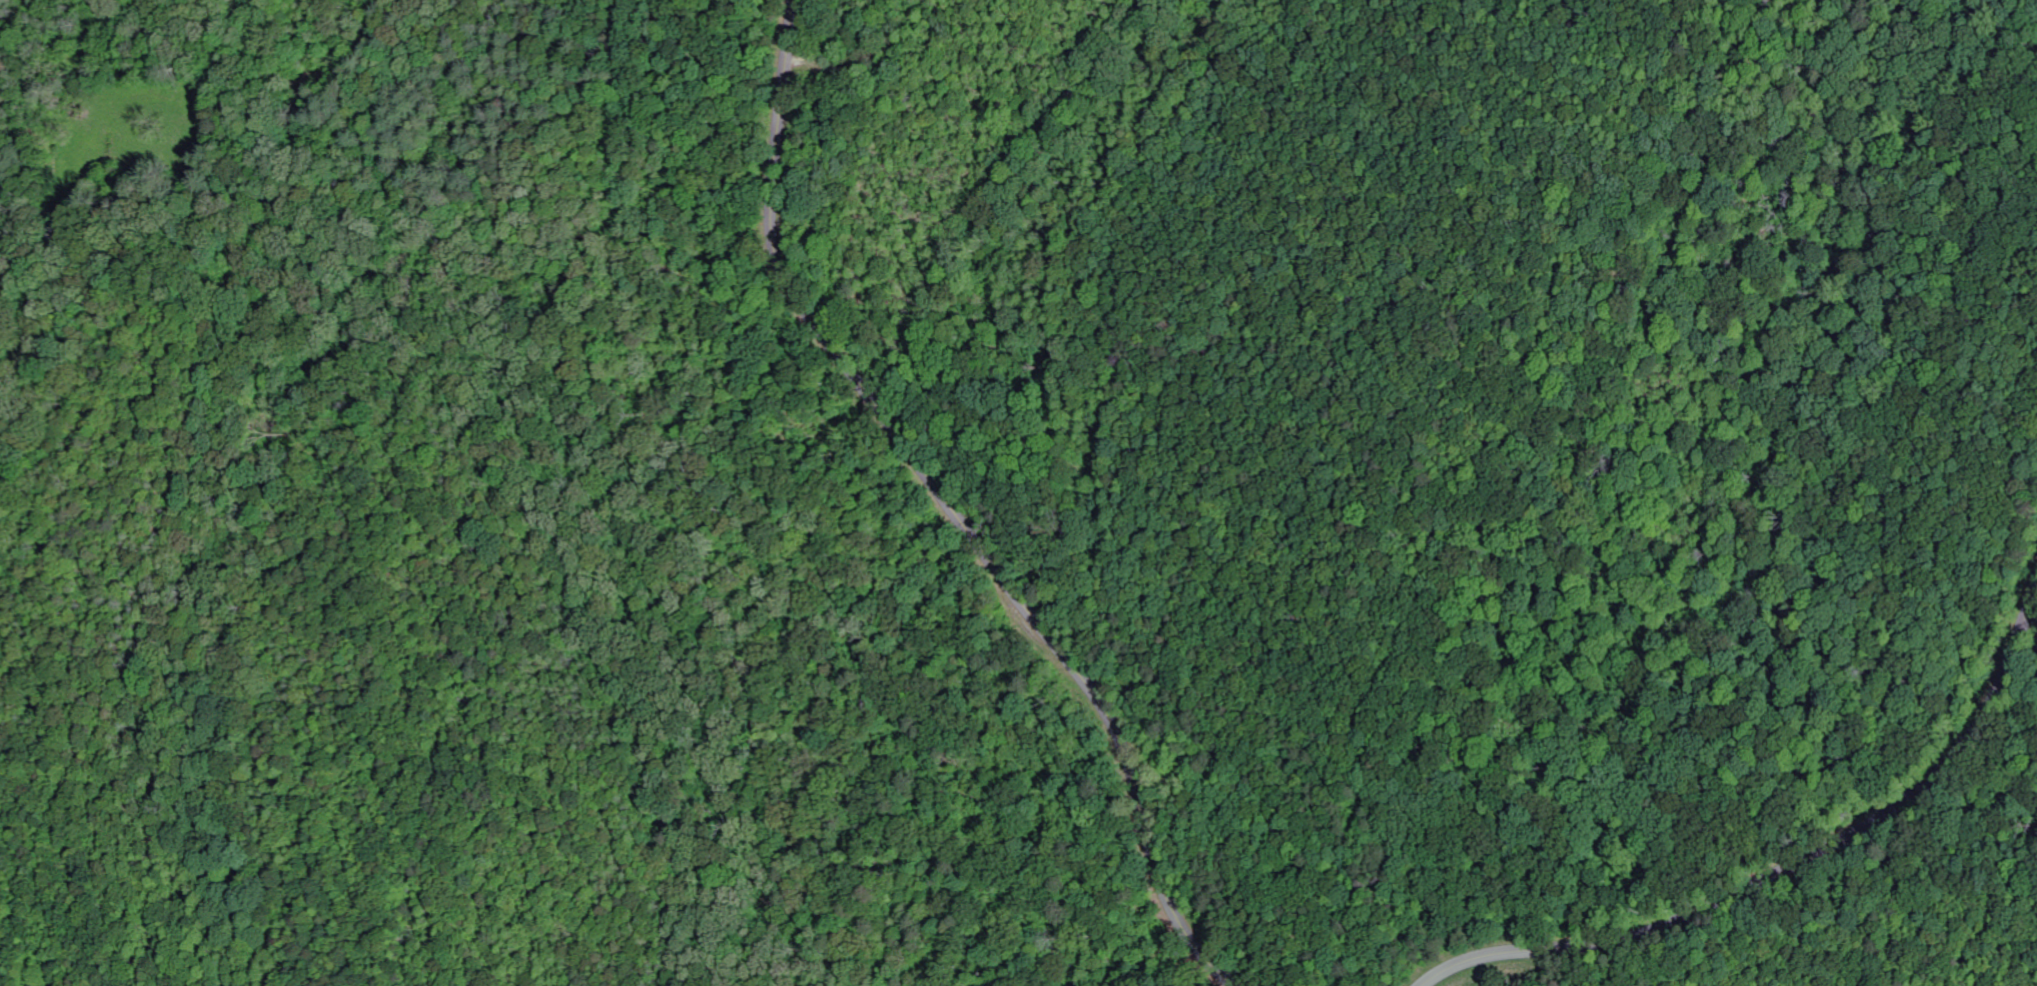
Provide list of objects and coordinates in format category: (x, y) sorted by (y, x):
road: (898, 41)
road: (951, 508)
road: (46, 629)
road: (406, 837)
road: (1786, 870)
road: (24, 931)

